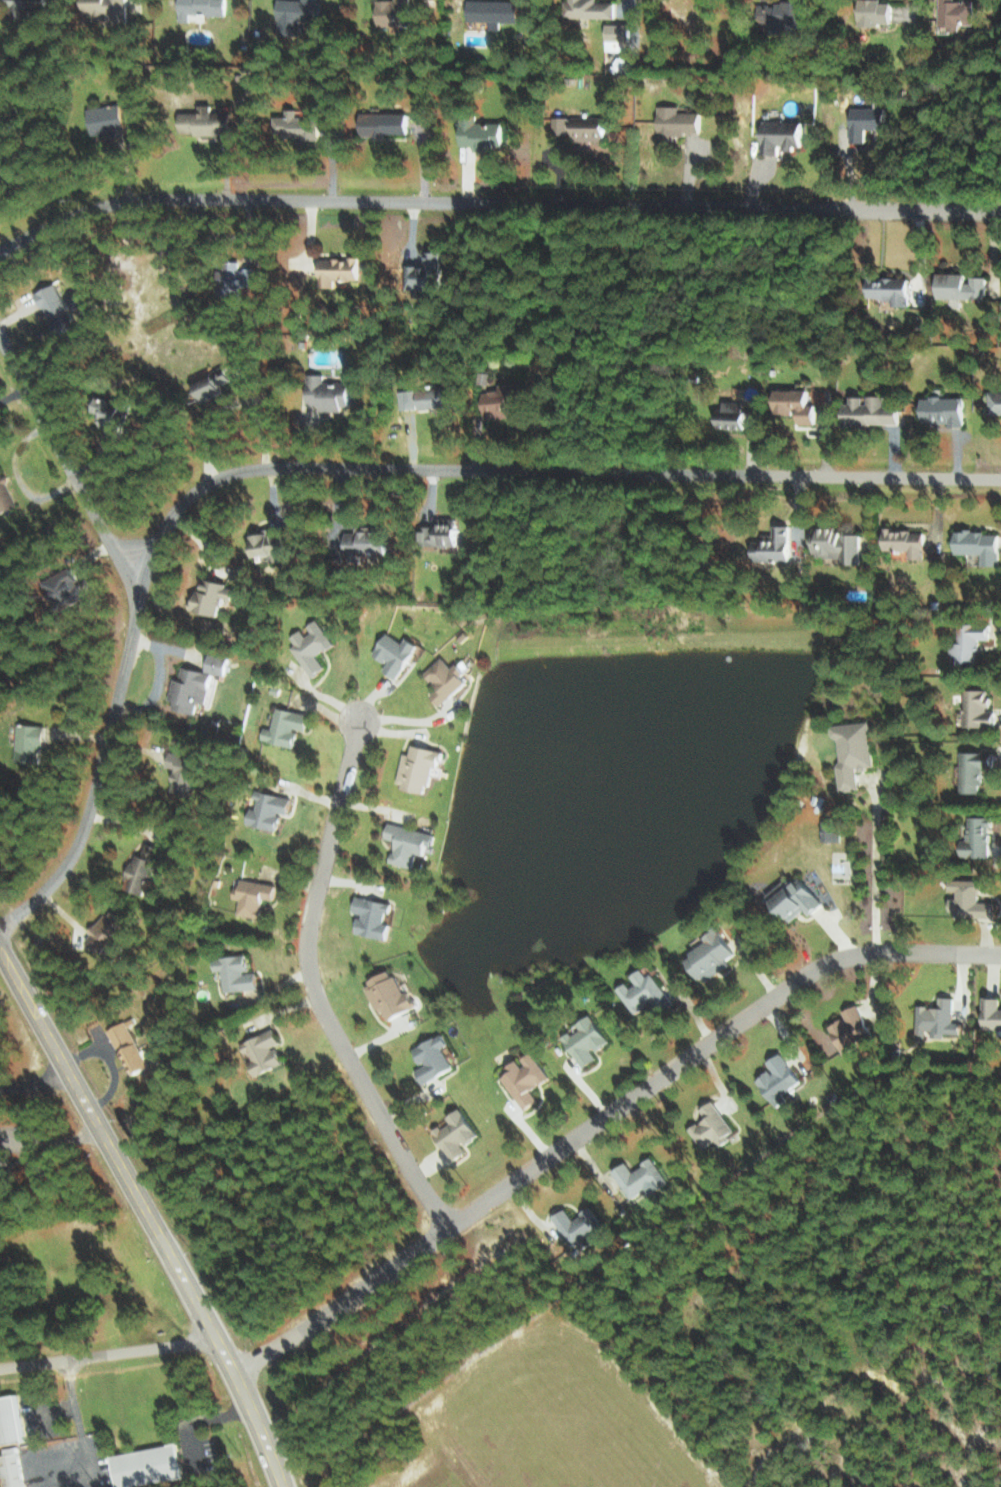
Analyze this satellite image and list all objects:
building: (25, 7)
building: (202, 7)
building: (590, 8)
building: (110, 10)
building: (495, 11)
building: (394, 12)
building: (877, 12)
building: (957, 13)
building: (299, 14)
building: (786, 16)
building: (618, 35)
building: (109, 120)
building: (207, 121)
building: (679, 121)
building: (867, 121)
building: (386, 123)
building: (296, 125)
building: (582, 127)
building: (482, 133)
building: (782, 135)
building: (2, 171)
road: (495, 210)
building: (339, 269)
building: (426, 273)
building: (237, 278)
building: (964, 286)
building: (891, 289)
building: (57, 309)
building: (214, 383)
building: (330, 393)
building: (428, 398)
building: (506, 400)
building: (997, 402)
building: (799, 404)
building: (946, 410)
building: (872, 411)
building: (115, 413)
building: (735, 415)
road: (71, 472)
road: (351, 476)
building: (6, 495)
building: (442, 532)
building: (908, 541)
building: (270, 544)
building: (364, 544)
building: (839, 544)
building: (775, 545)
building: (982, 545)
building: (67, 590)
building: (214, 596)
building: (972, 641)
building: (312, 646)
building: (396, 654)
building: (446, 679)
building: (197, 684)
building: (980, 709)
building: (287, 727)
building: (30, 742)
building: (855, 752)
building: (419, 768)
building: (976, 770)
building: (184, 772)
building: (270, 810)
building: (833, 829)
building: (980, 838)
building: (409, 843)
building: (143, 869)
road: (875, 871)
building: (253, 897)
building: (797, 898)
building: (971, 900)
building: (373, 917)
building: (107, 931)
building: (713, 956)
building: (237, 973)
road: (314, 991)
building: (646, 992)
building: (390, 996)
building: (993, 1012)
building: (939, 1020)
building: (853, 1029)
building: (589, 1041)
building: (129, 1048)
building: (264, 1052)
building: (434, 1058)
building: (527, 1079)
building: (781, 1080)
road: (604, 1127)
building: (714, 1127)
building: (457, 1134)
road: (53, 1136)
building: (643, 1178)
road: (150, 1215)
building: (581, 1227)
road: (107, 1352)
road: (73, 1396)
road: (48, 1407)
building: (11, 1420)
airport: (528, 1425)
road: (42, 1455)
road: (86, 1461)
building: (148, 1465)
building: (16, 1466)
road: (83, 1486)

